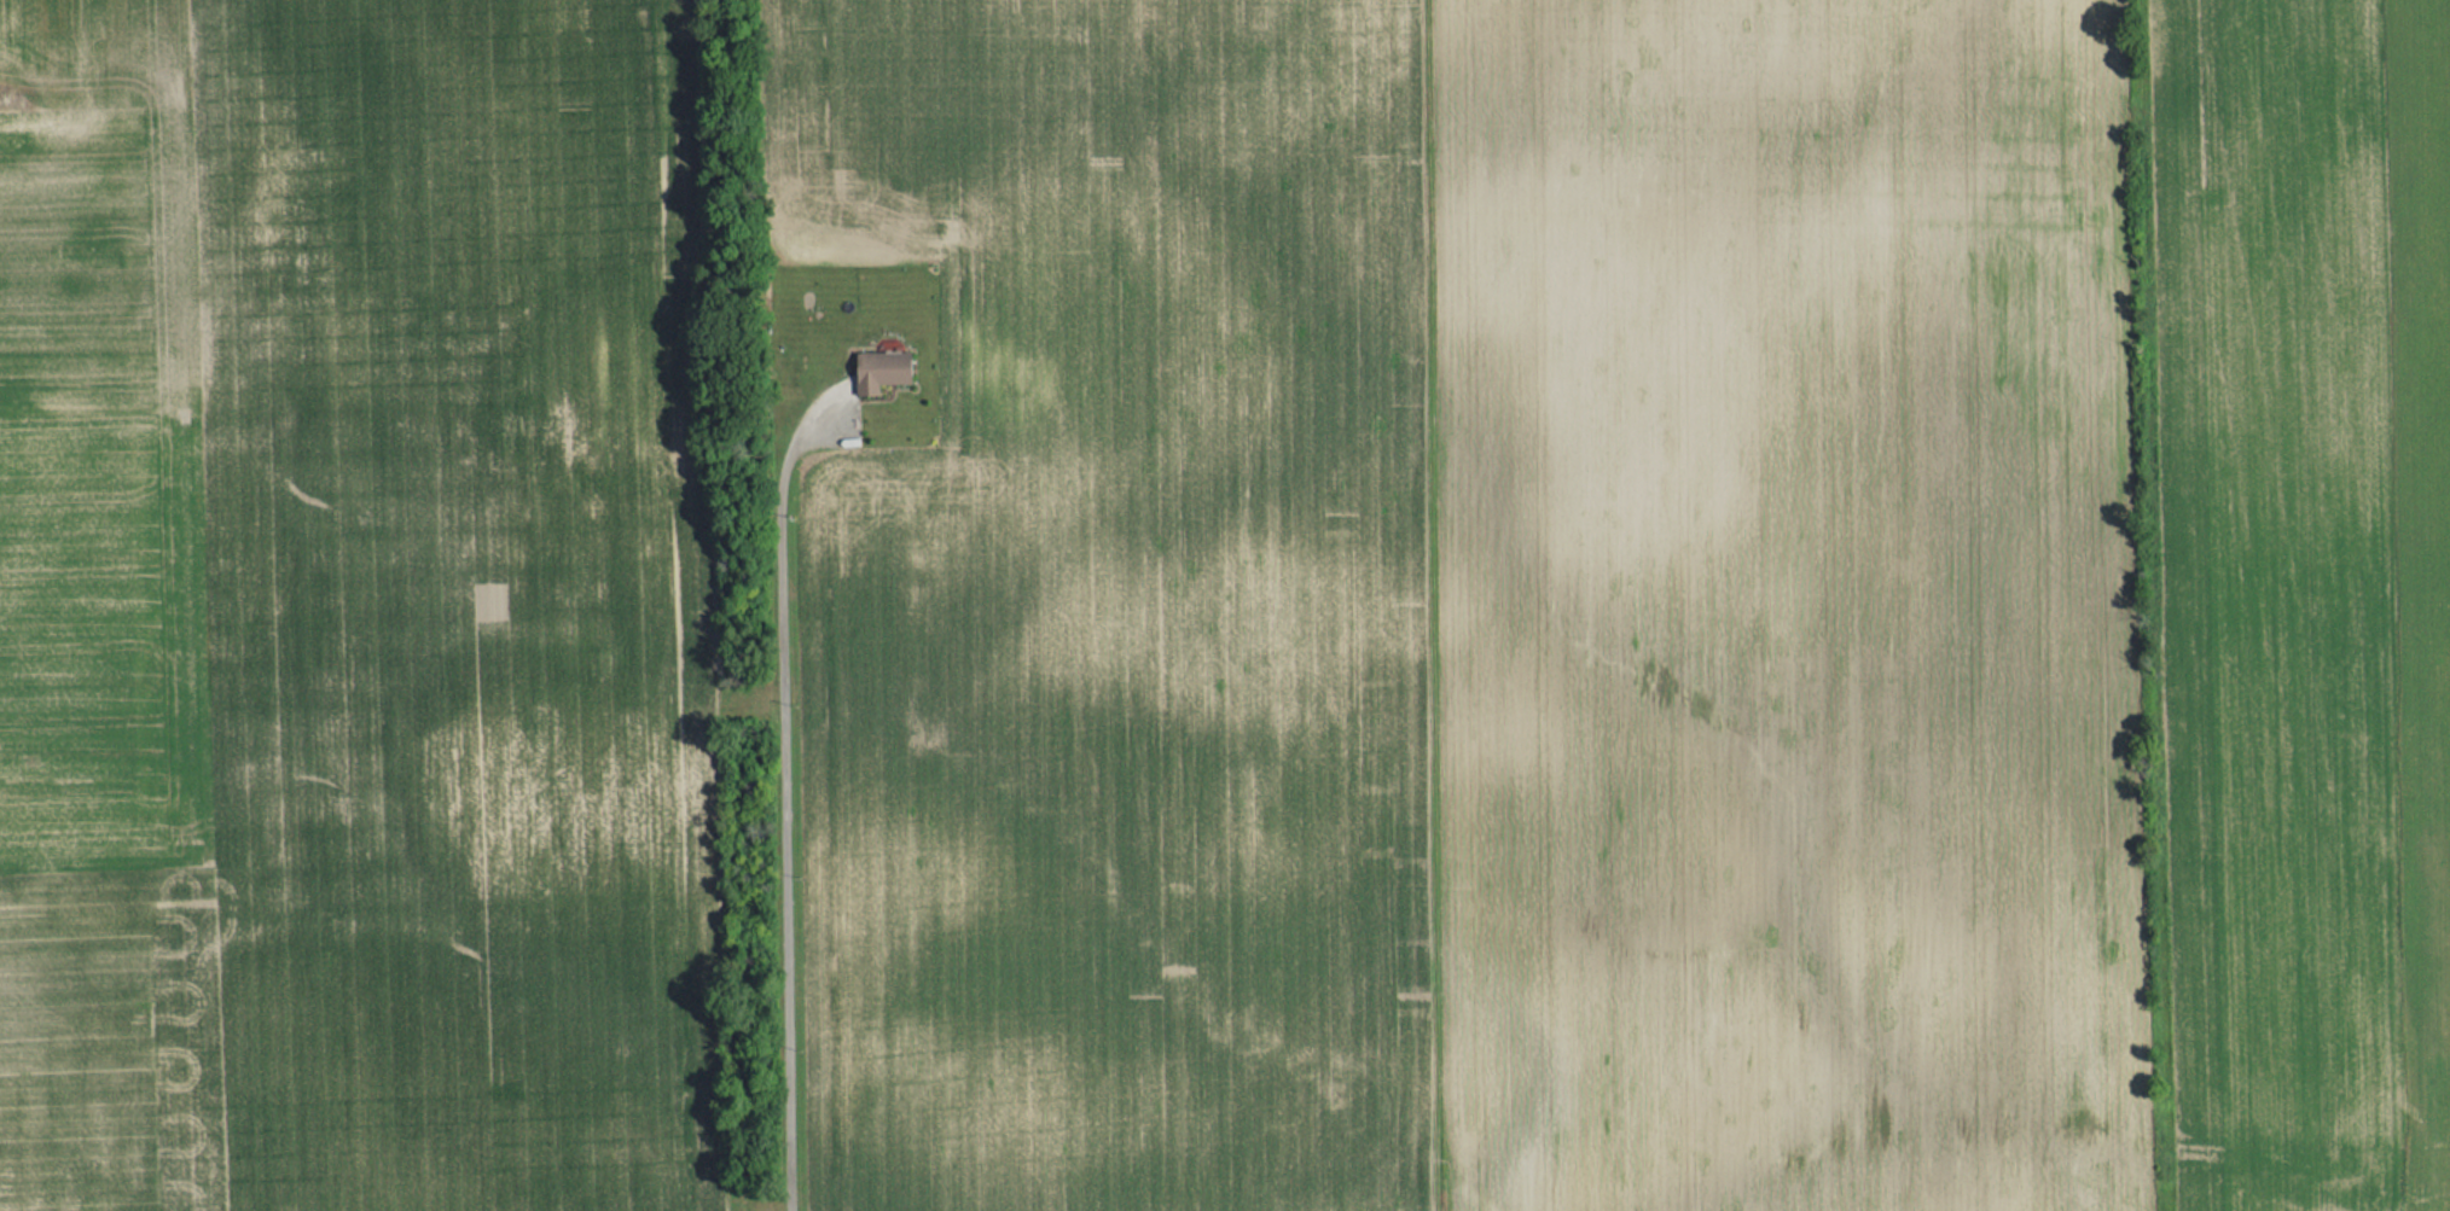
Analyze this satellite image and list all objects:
building: (879, 373)
road: (786, 804)

